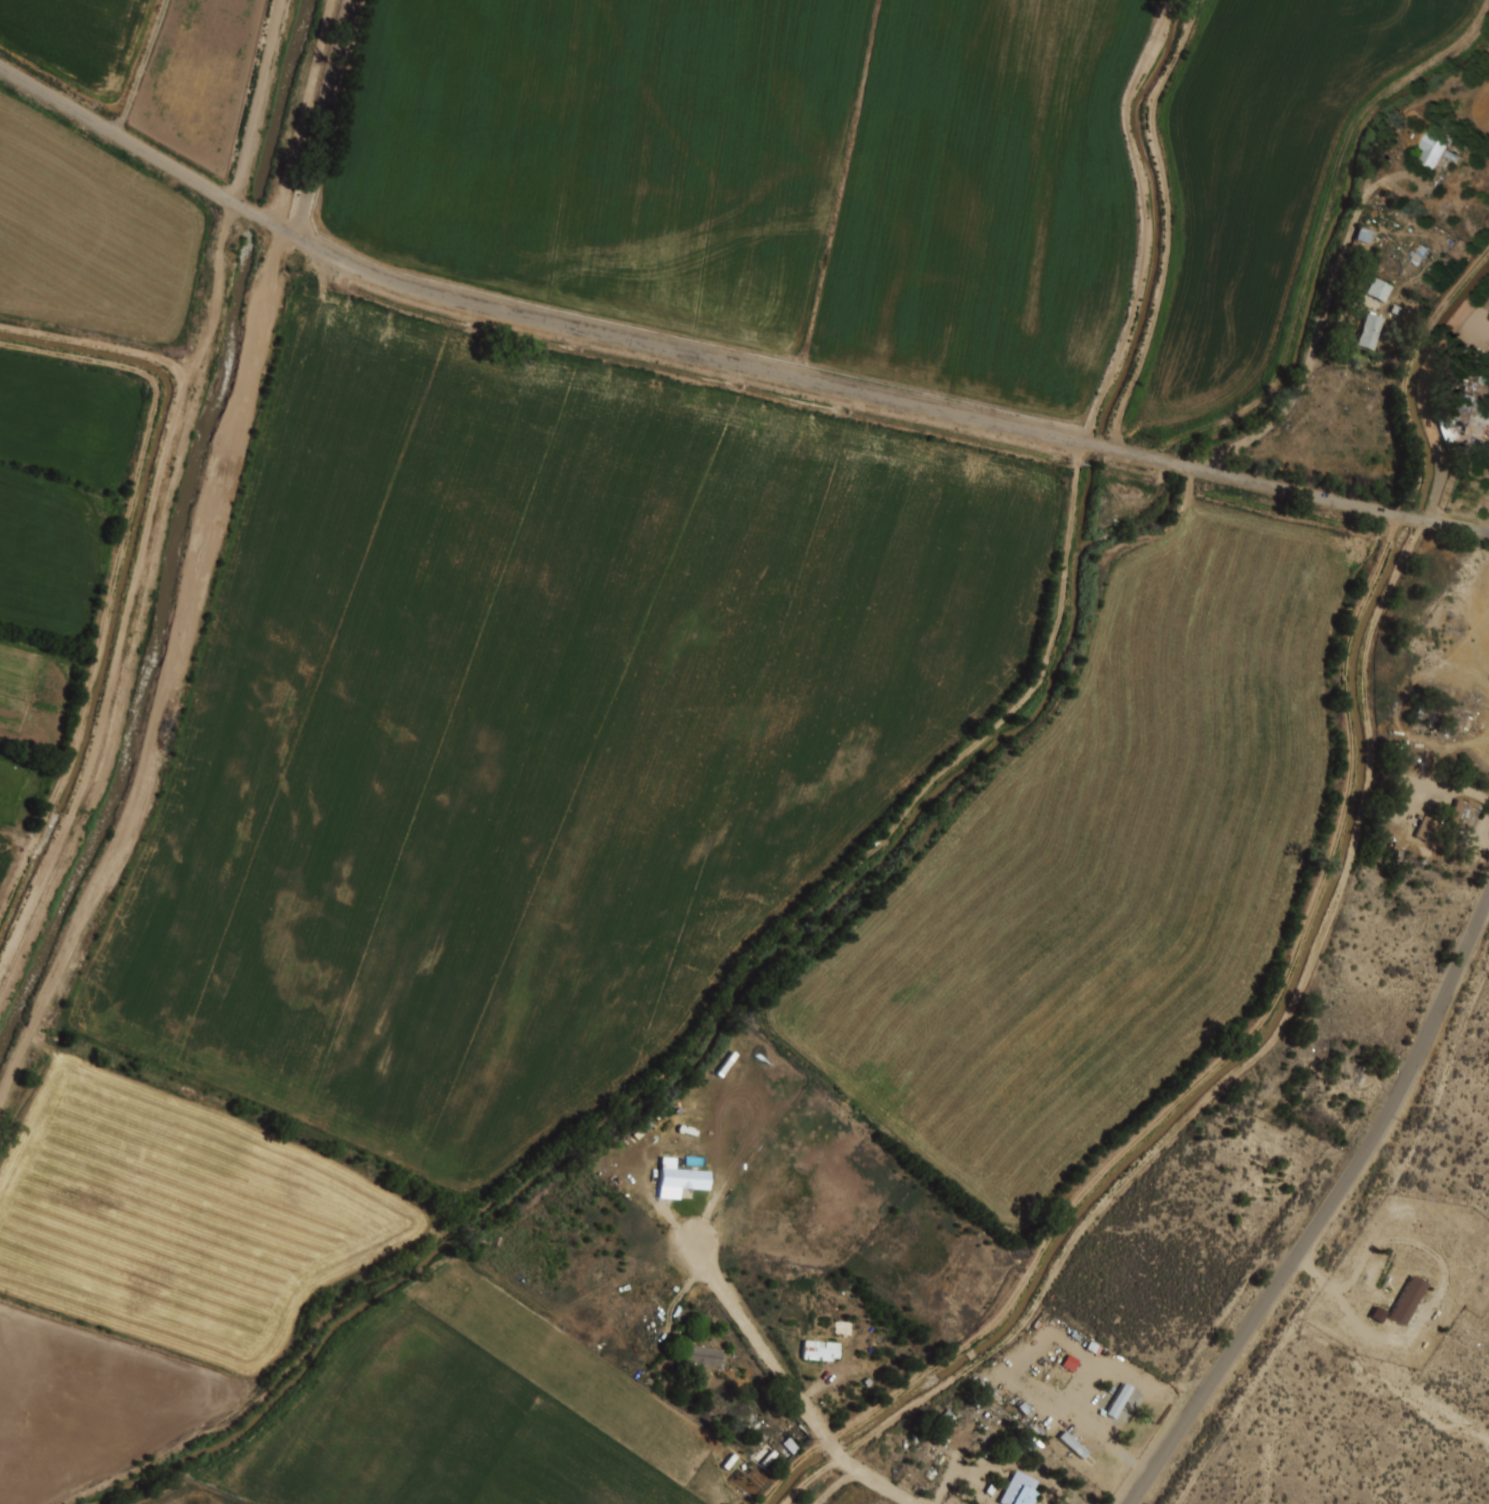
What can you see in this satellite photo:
road: (143, 67)
road: (326, 119)
building: (1434, 147)
building: (1362, 234)
building: (1377, 288)
building: (1368, 333)
road: (1315, 345)
road: (1325, 358)
road: (720, 363)
building: (1468, 414)
building: (1445, 433)
road: (1442, 466)
building: (1462, 816)
building: (1424, 826)
road: (1245, 1063)
building: (686, 1178)
road: (1327, 1211)
building: (1406, 1300)
building: (843, 1327)
building: (822, 1351)
building: (704, 1355)
building: (1070, 1361)
building: (862, 1365)
road: (788, 1387)
road: (1413, 1395)
building: (1110, 1402)
building: (790, 1444)
building: (1075, 1446)
building: (1014, 1447)
building: (1022, 1490)

